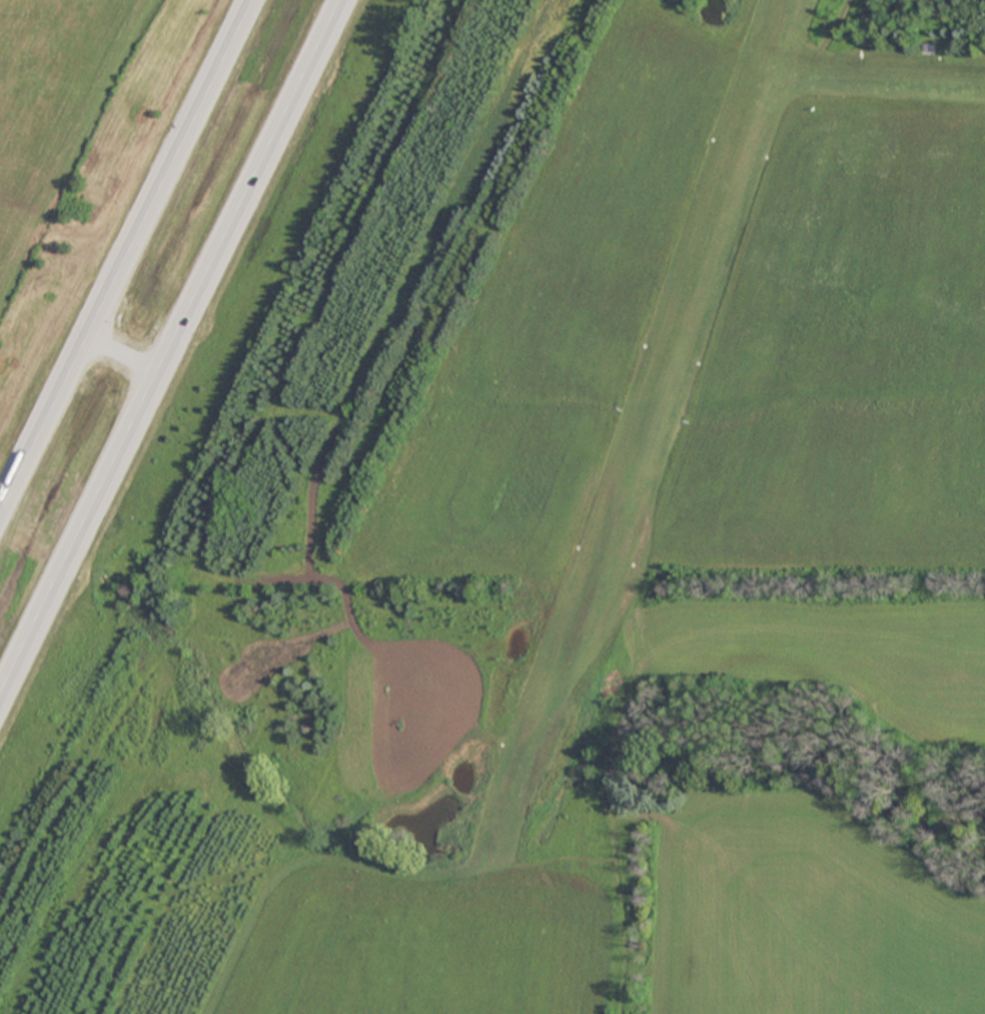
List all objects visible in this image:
road: (125, 257)
airport runway: (697, 282)
road: (171, 347)

